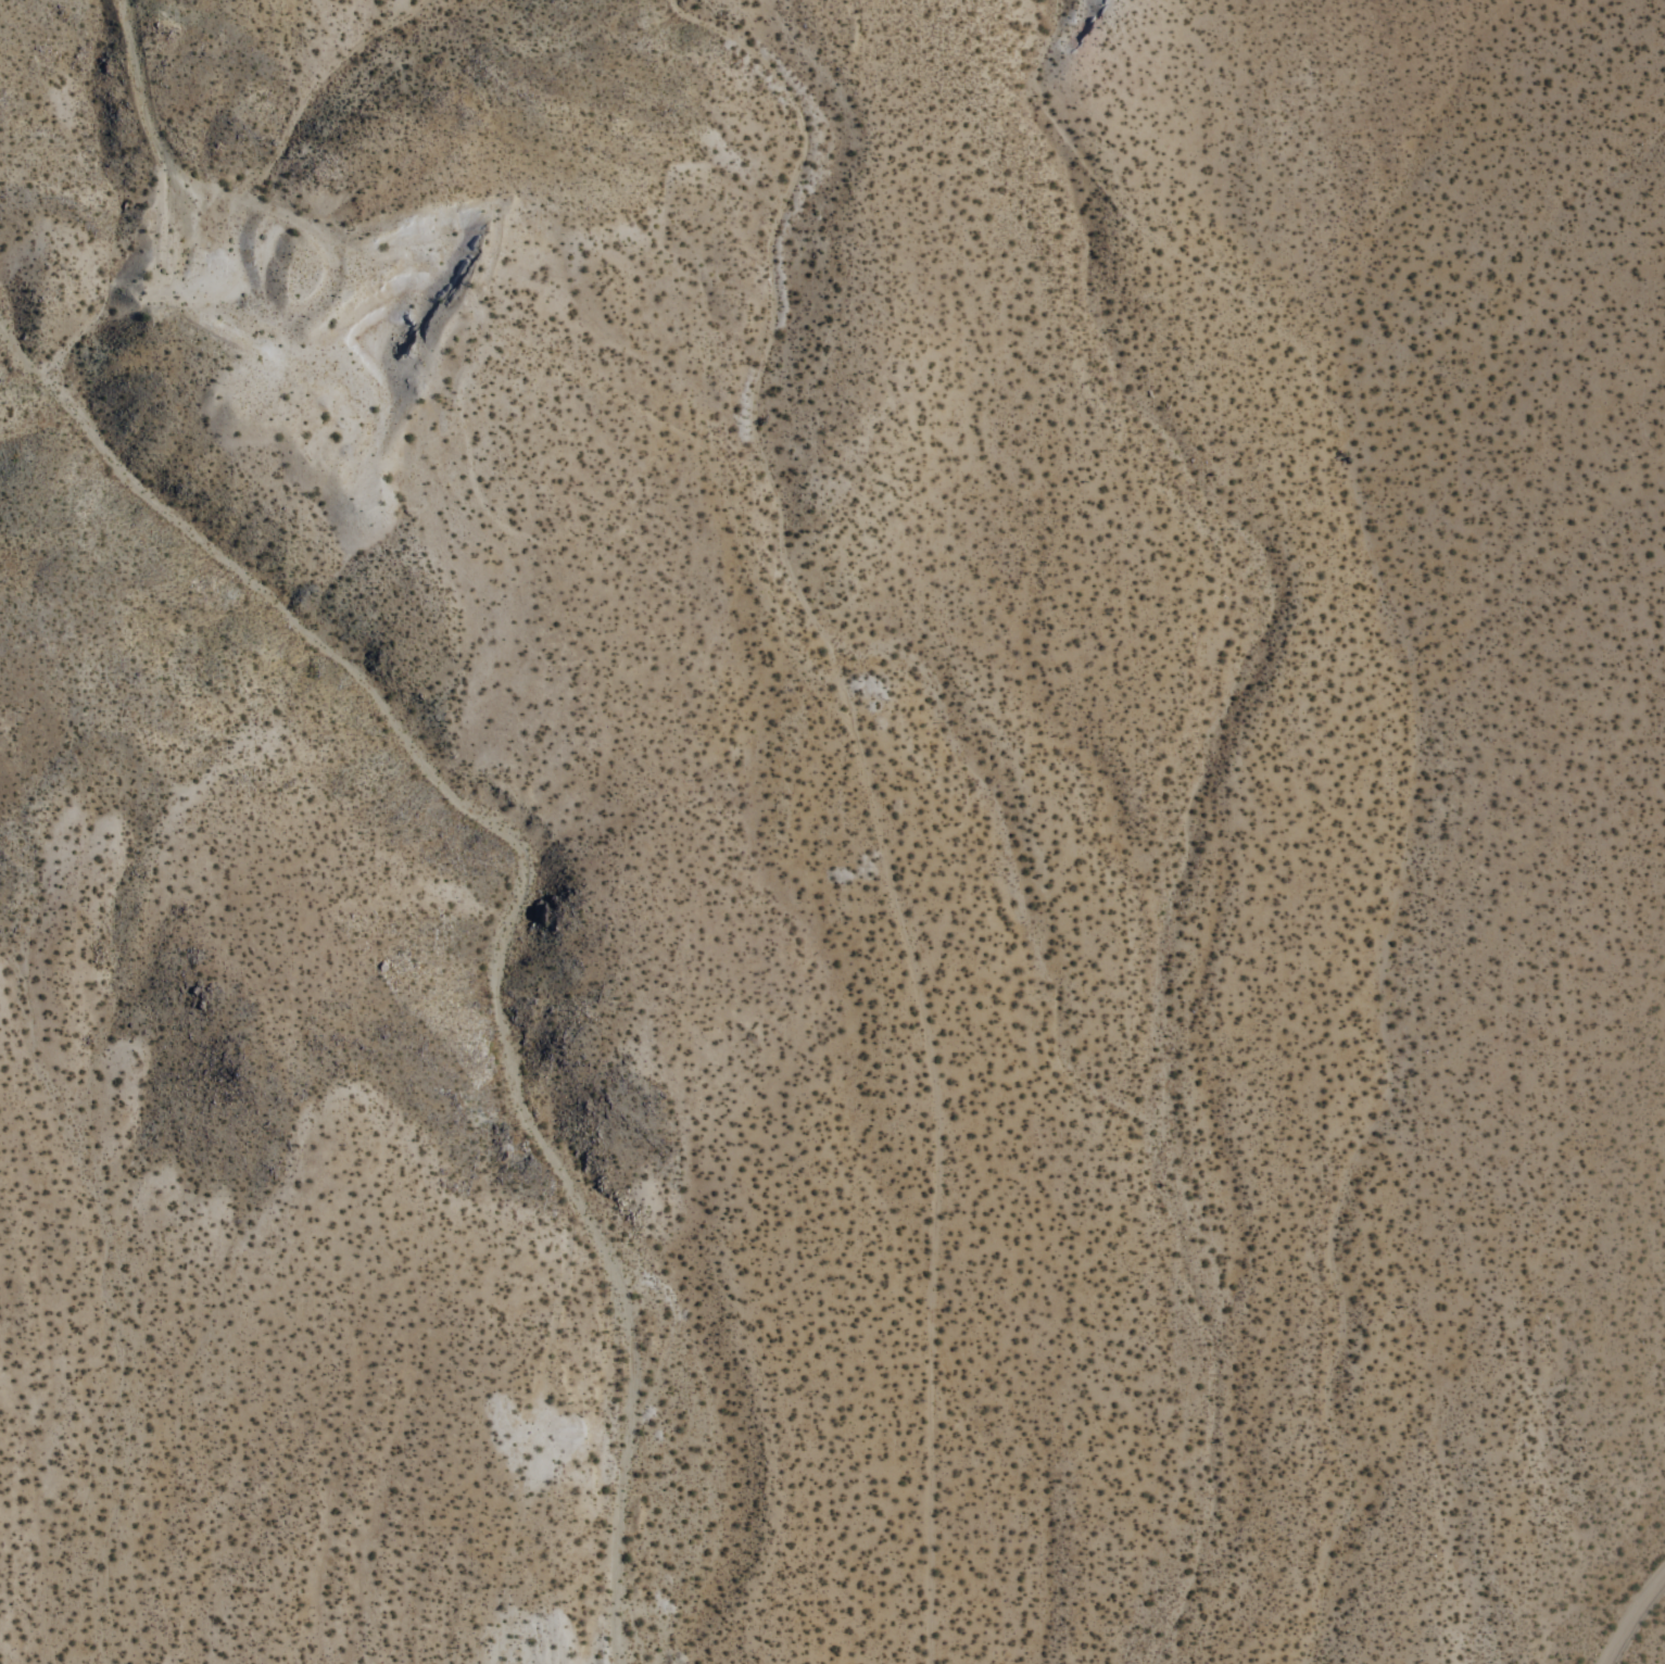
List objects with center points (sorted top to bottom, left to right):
road: (116, 277)
road: (17, 356)

